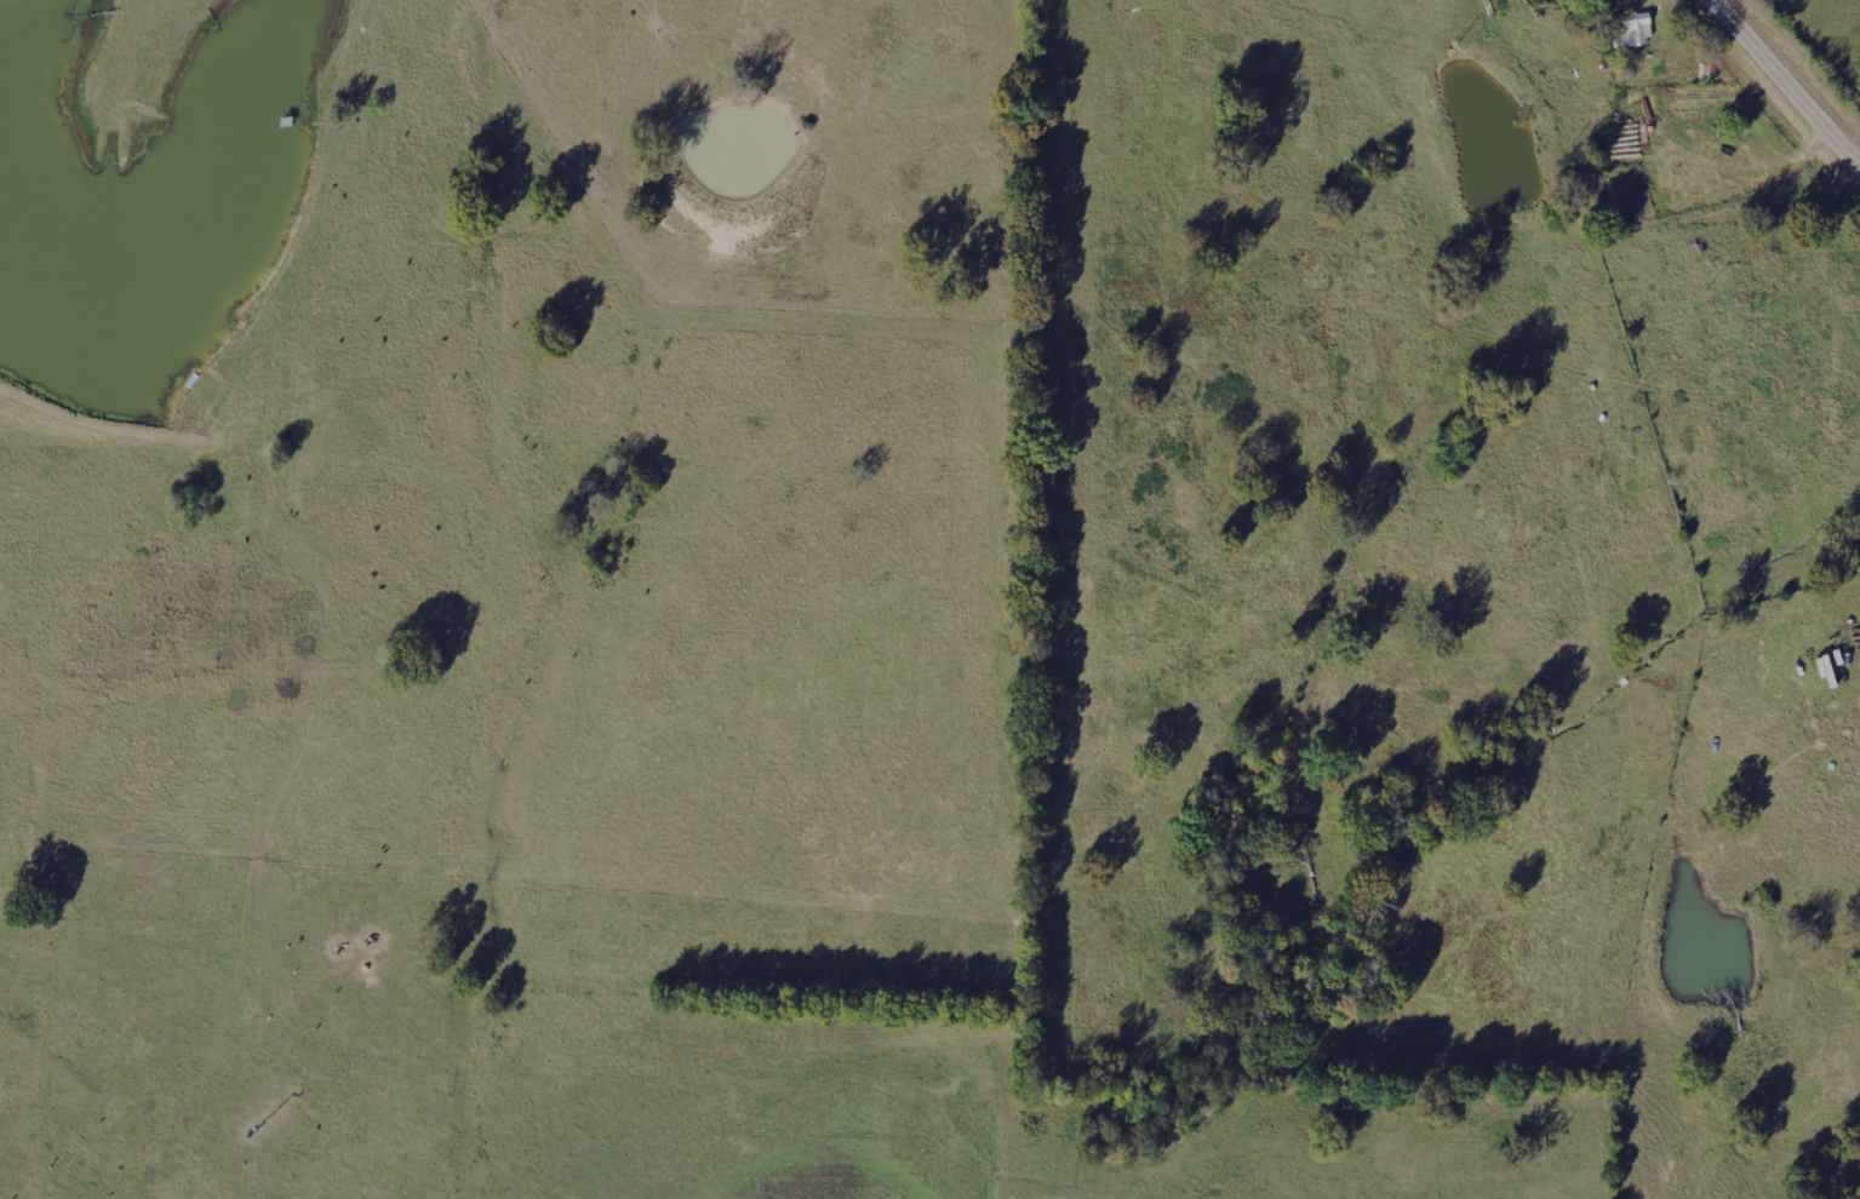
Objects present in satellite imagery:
building: (1632, 34)
road: (1780, 91)

